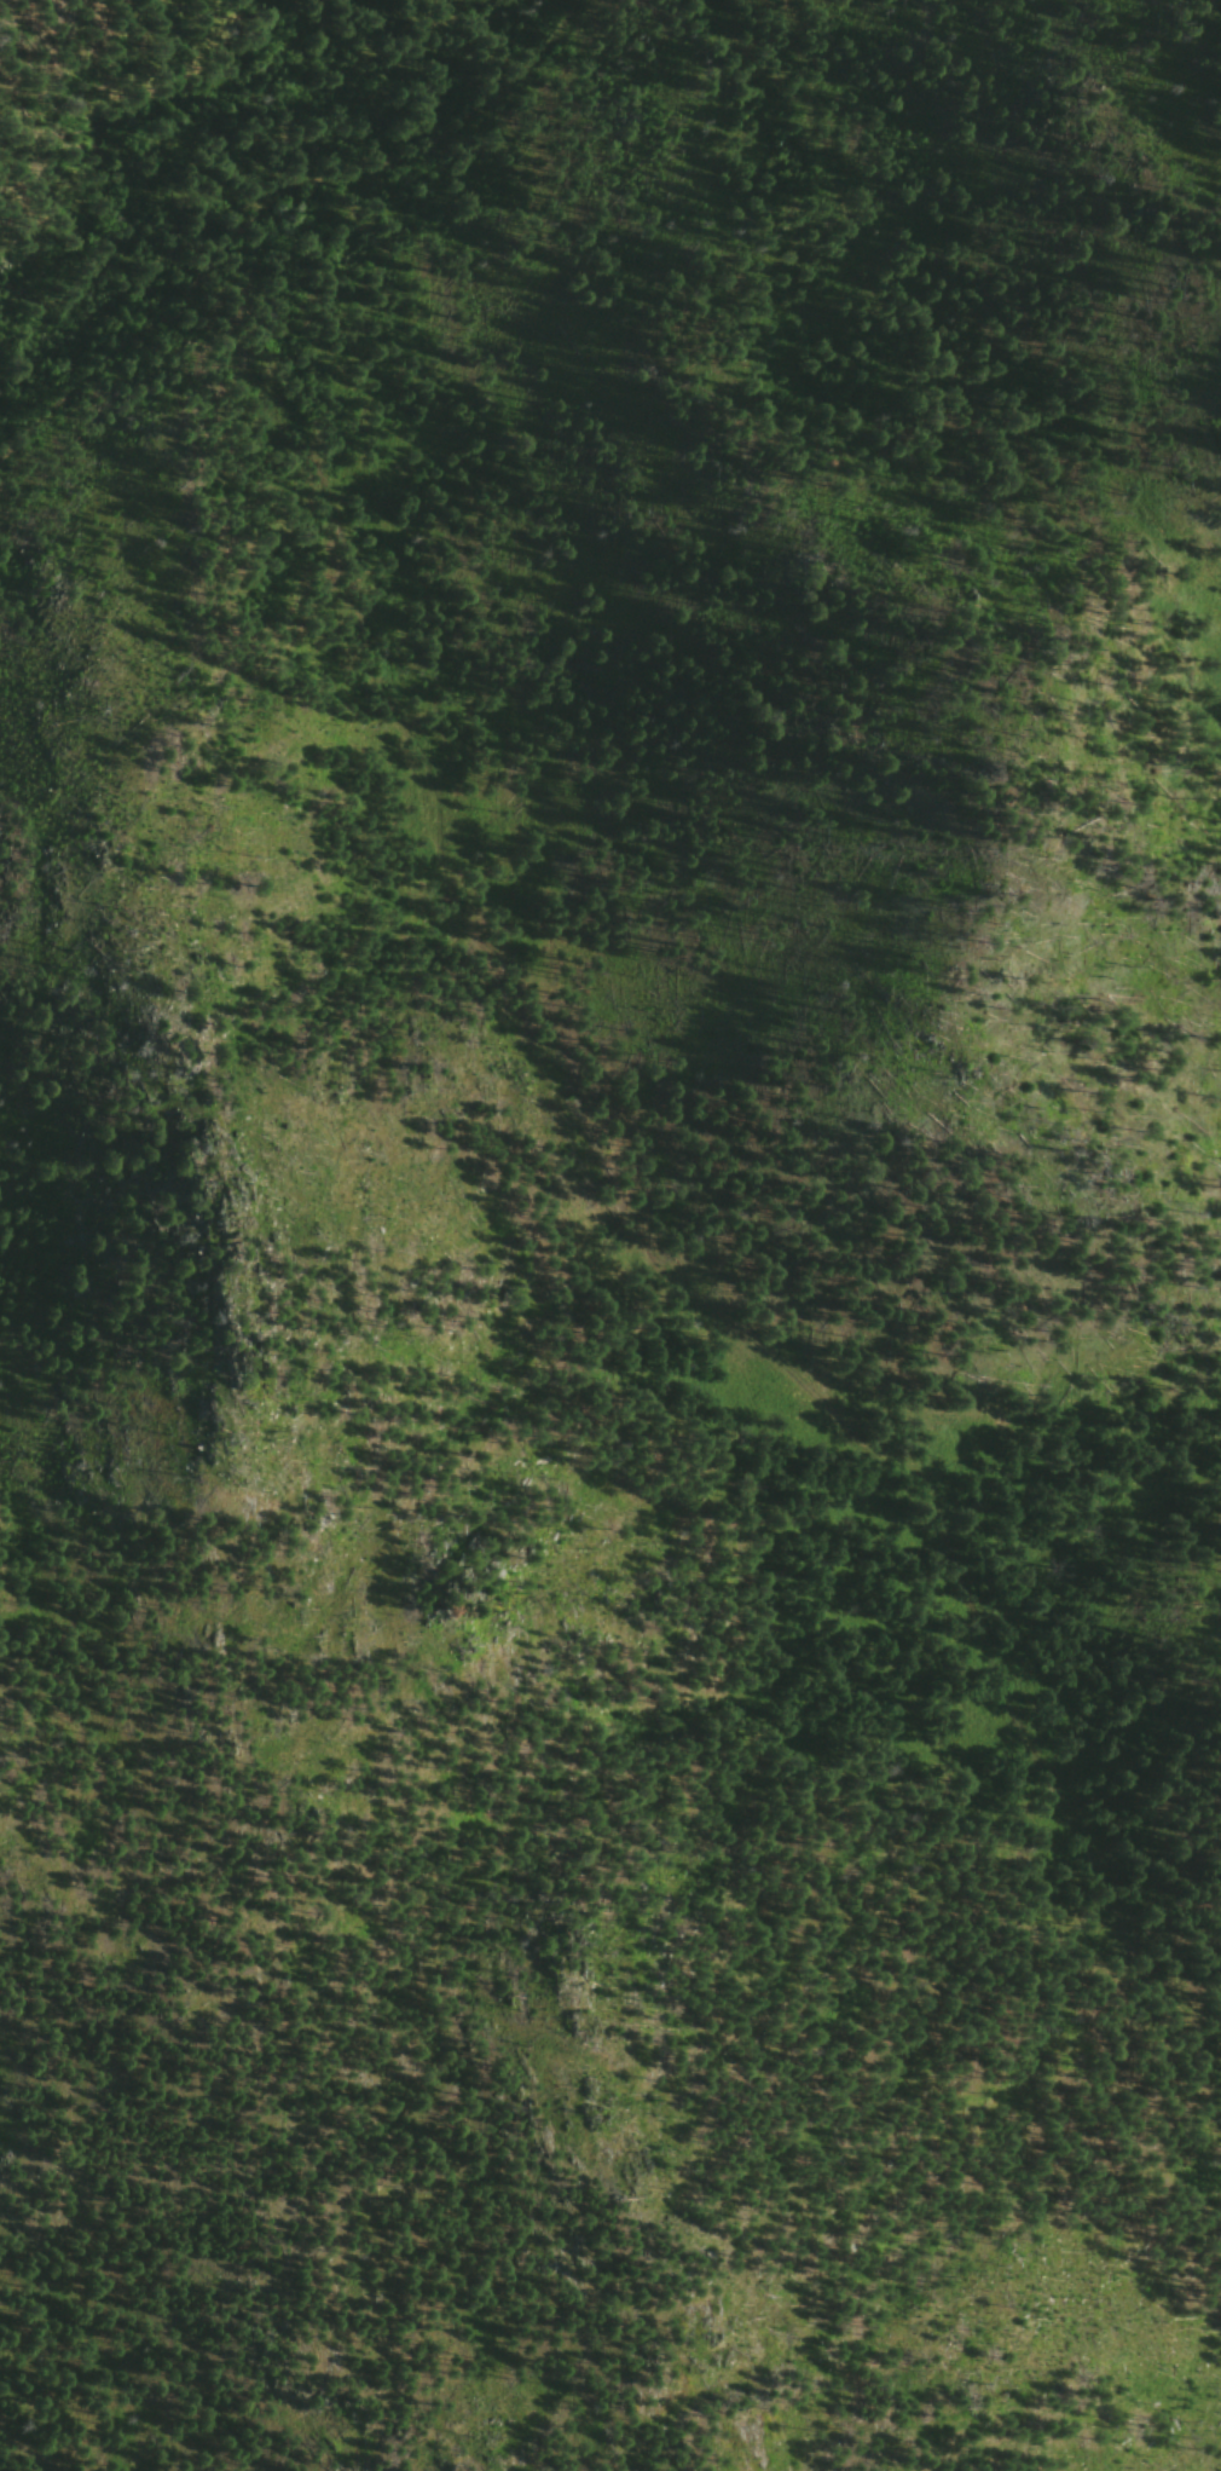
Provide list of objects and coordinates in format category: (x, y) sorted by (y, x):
road: (31, 2443)

